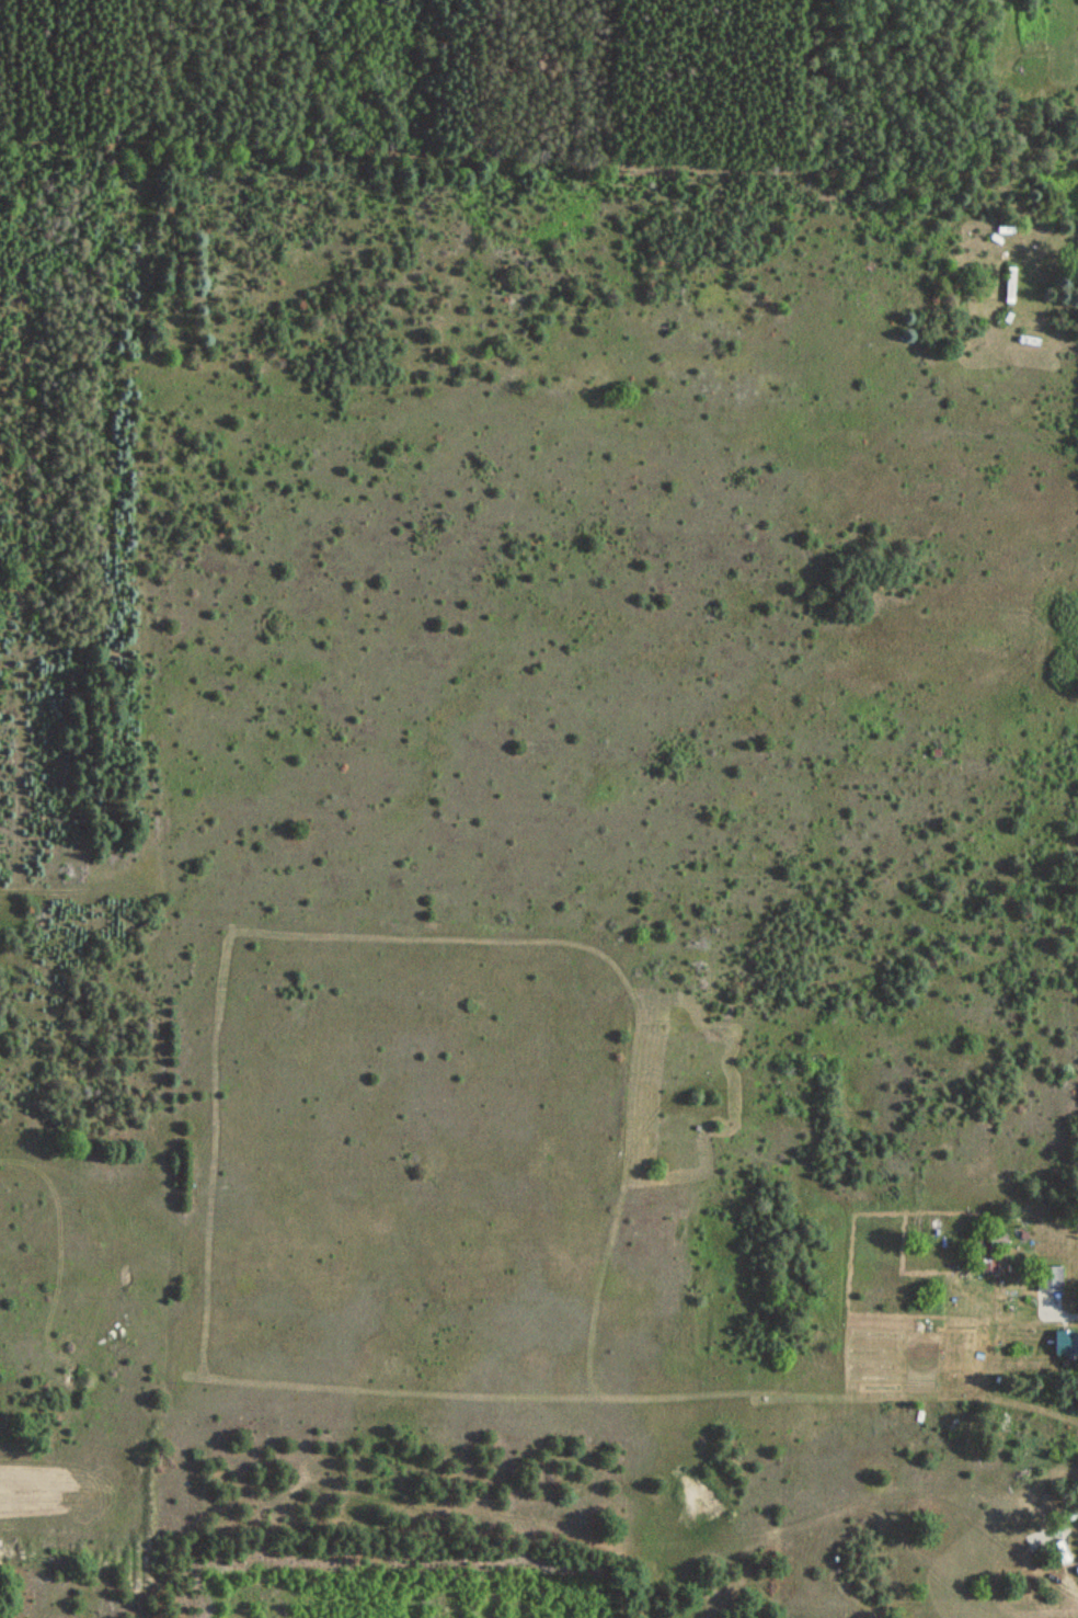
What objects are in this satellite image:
building: (1008, 284)
building: (986, 1251)
building: (1045, 1278)
building: (1064, 1343)
road: (903, 1523)

